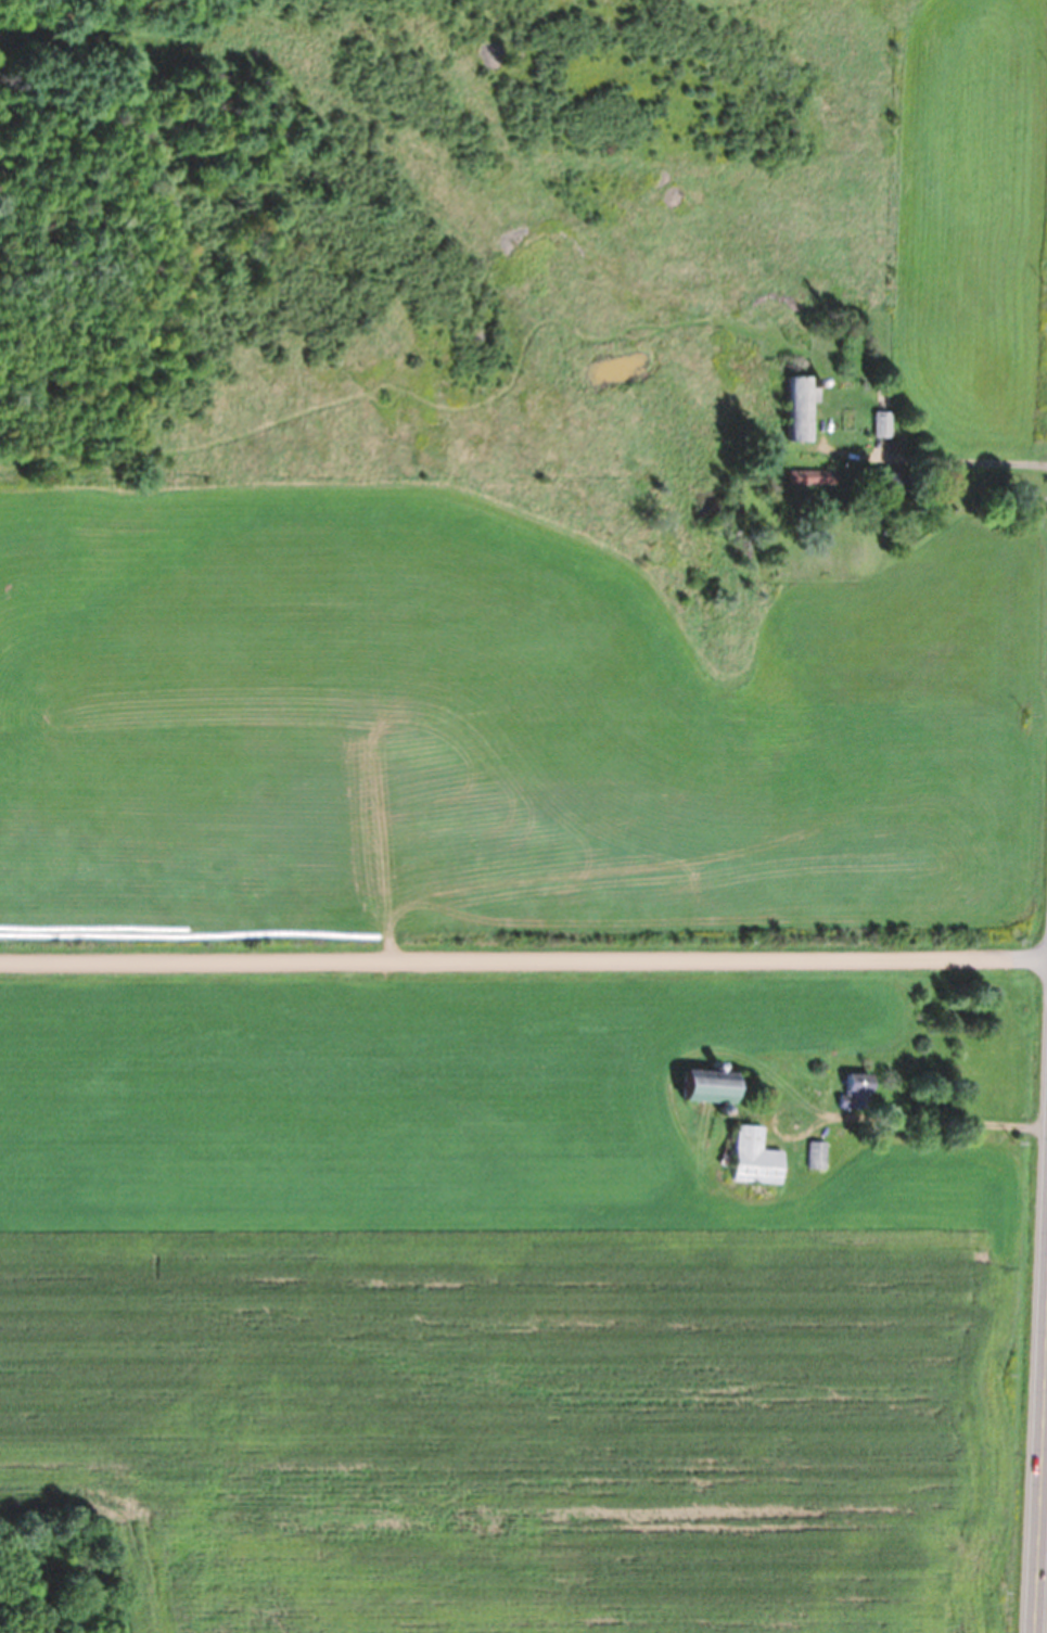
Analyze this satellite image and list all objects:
building: (799, 407)
building: (881, 423)
building: (810, 477)
building: (896, 482)
road: (523, 953)
building: (712, 1087)
building: (856, 1090)
building: (814, 1154)
building: (753, 1157)
road: (1040, 1483)

